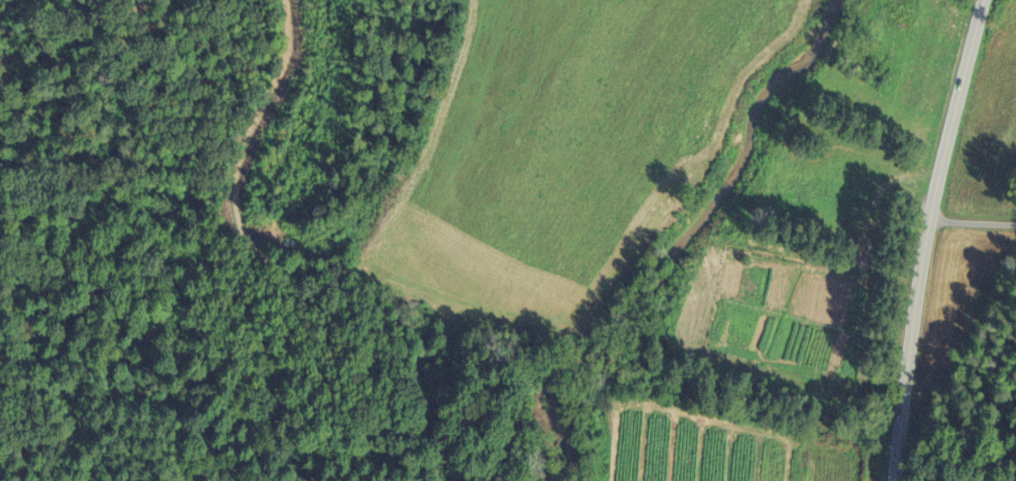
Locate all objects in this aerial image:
road: (254, 121)
road: (971, 224)
road: (925, 238)

